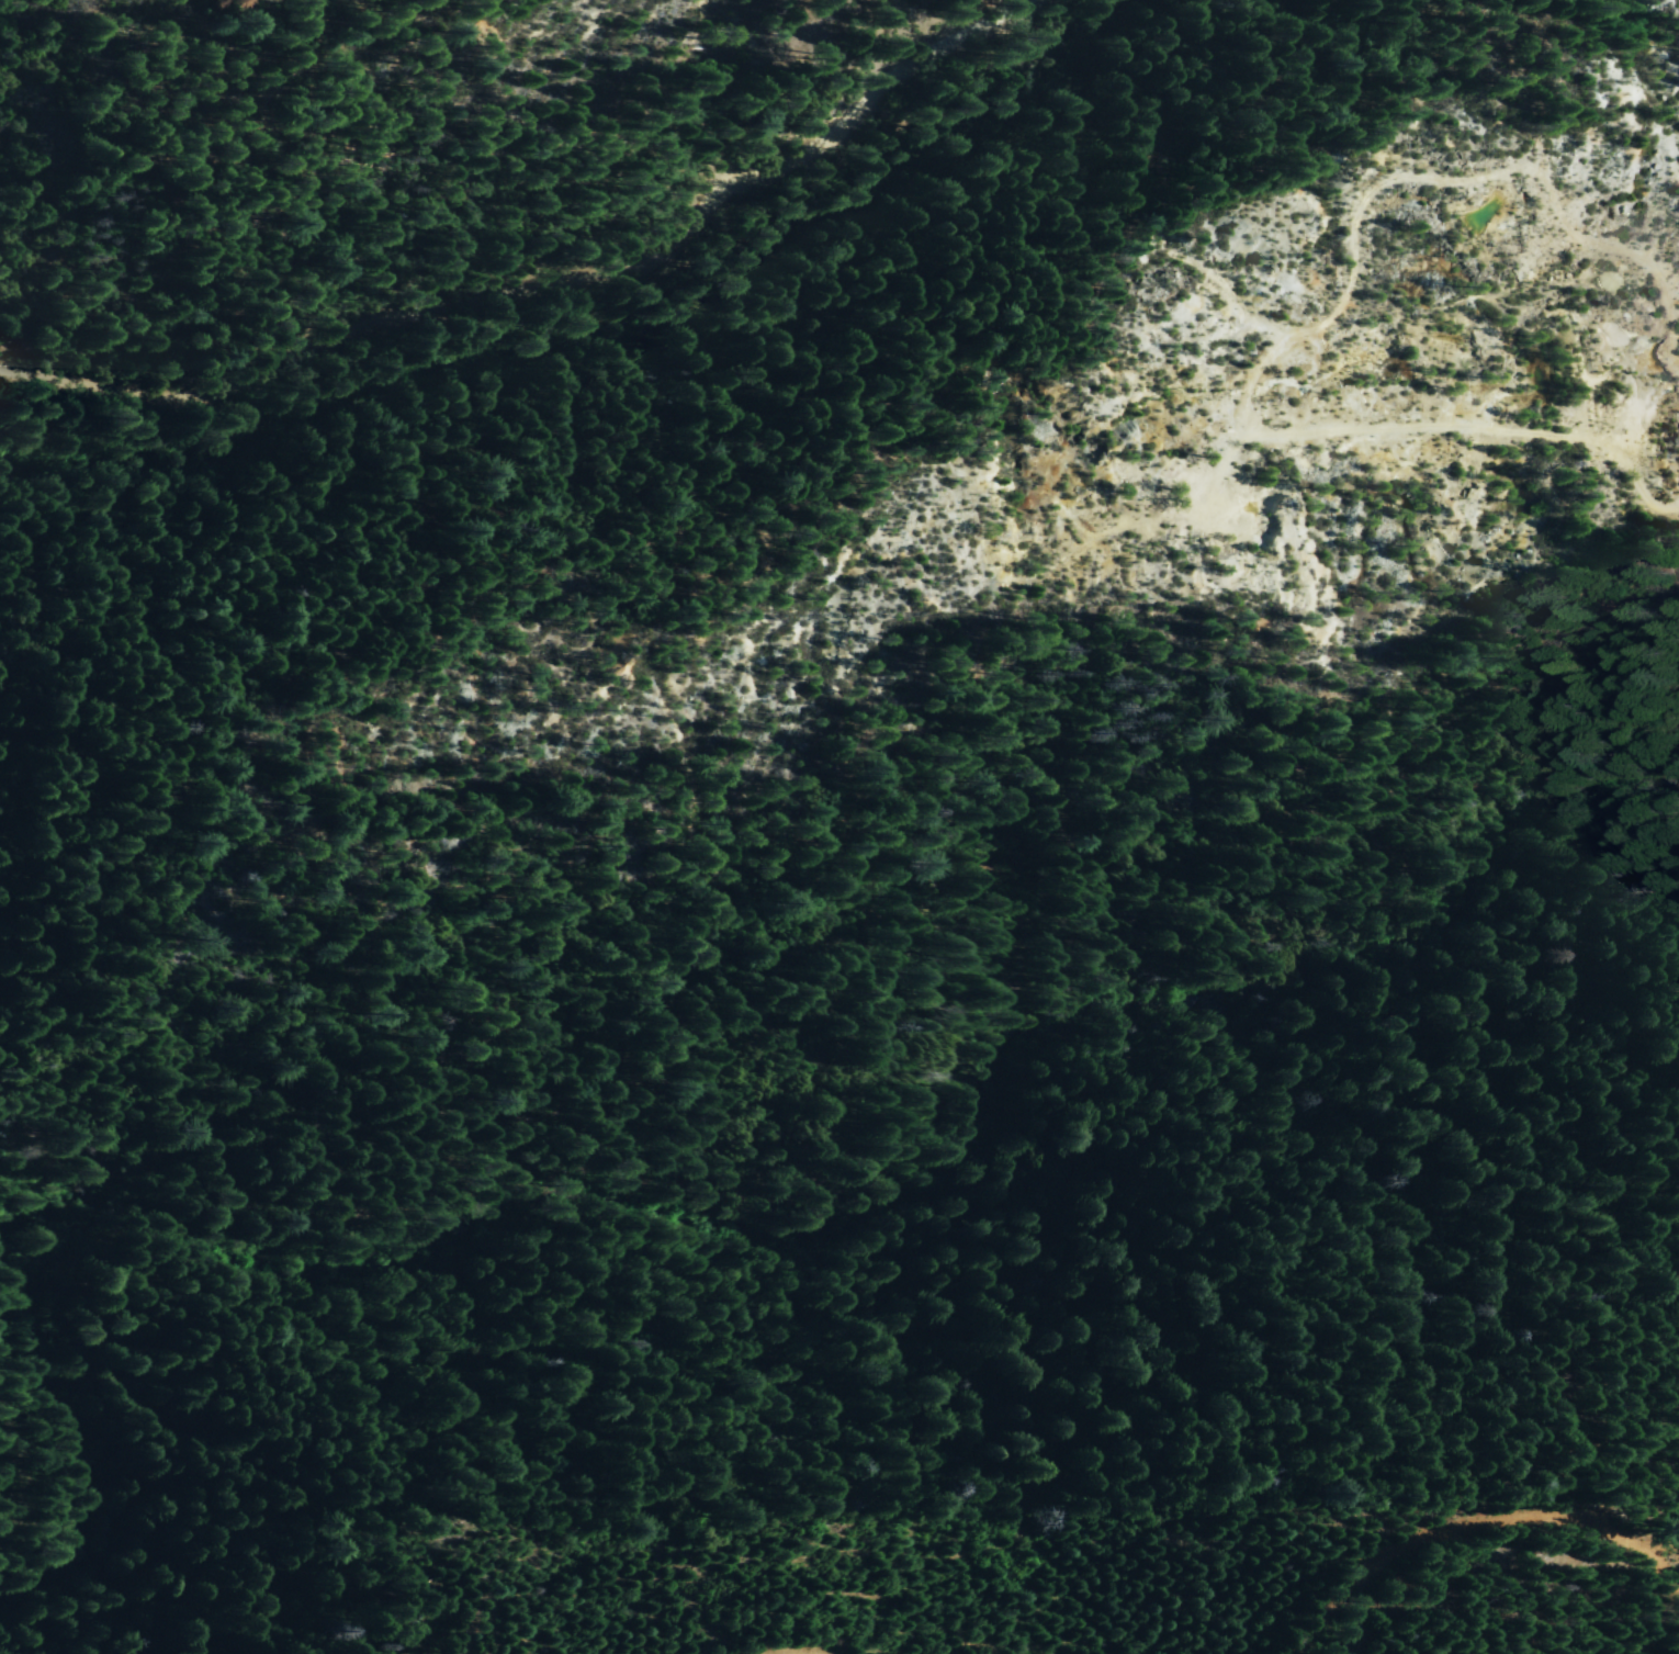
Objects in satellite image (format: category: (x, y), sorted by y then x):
park: (374, 154)
road: (543, 285)
park: (675, 1109)
road: (9, 1475)
road: (1453, 1510)
park: (929, 1576)
road: (798, 1644)

